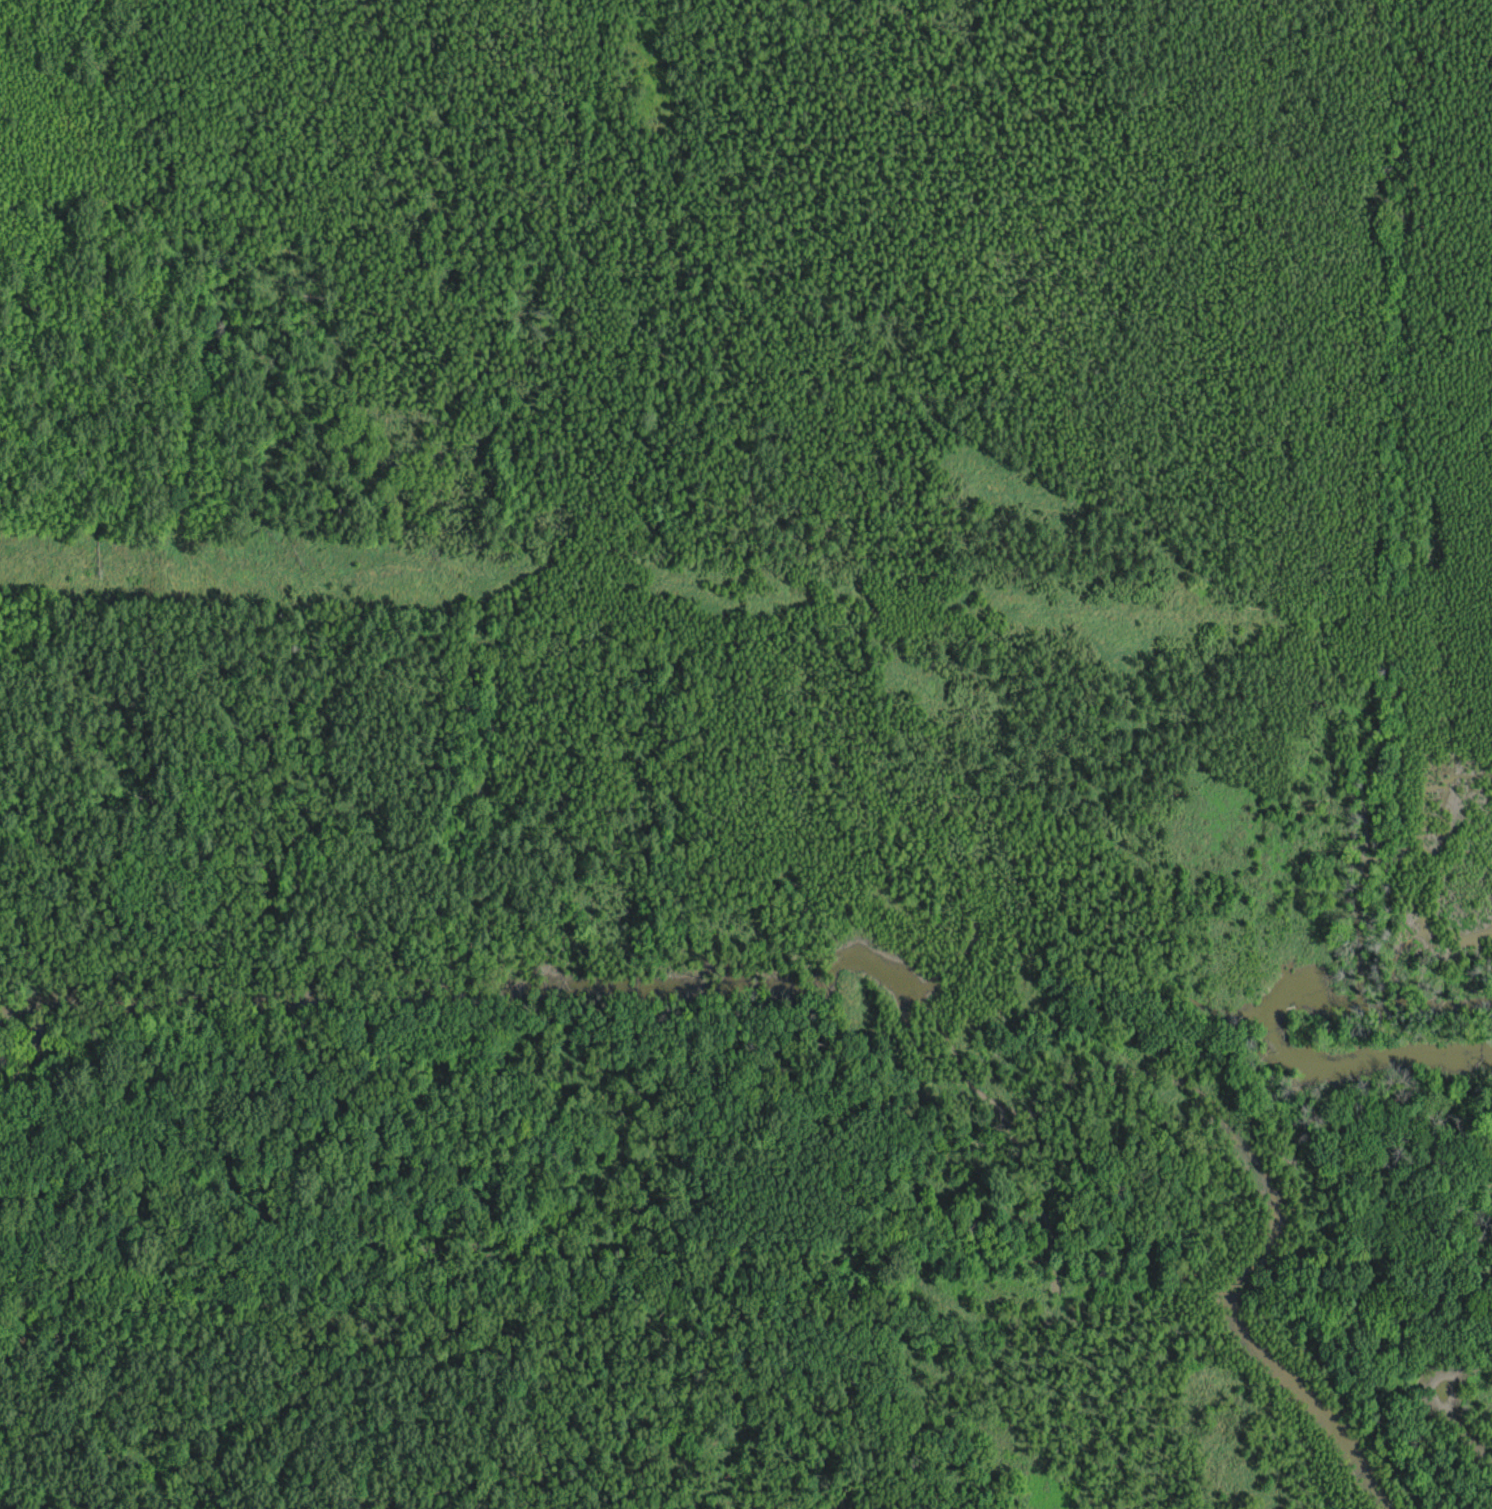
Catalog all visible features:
crop: (1464, 1412)

